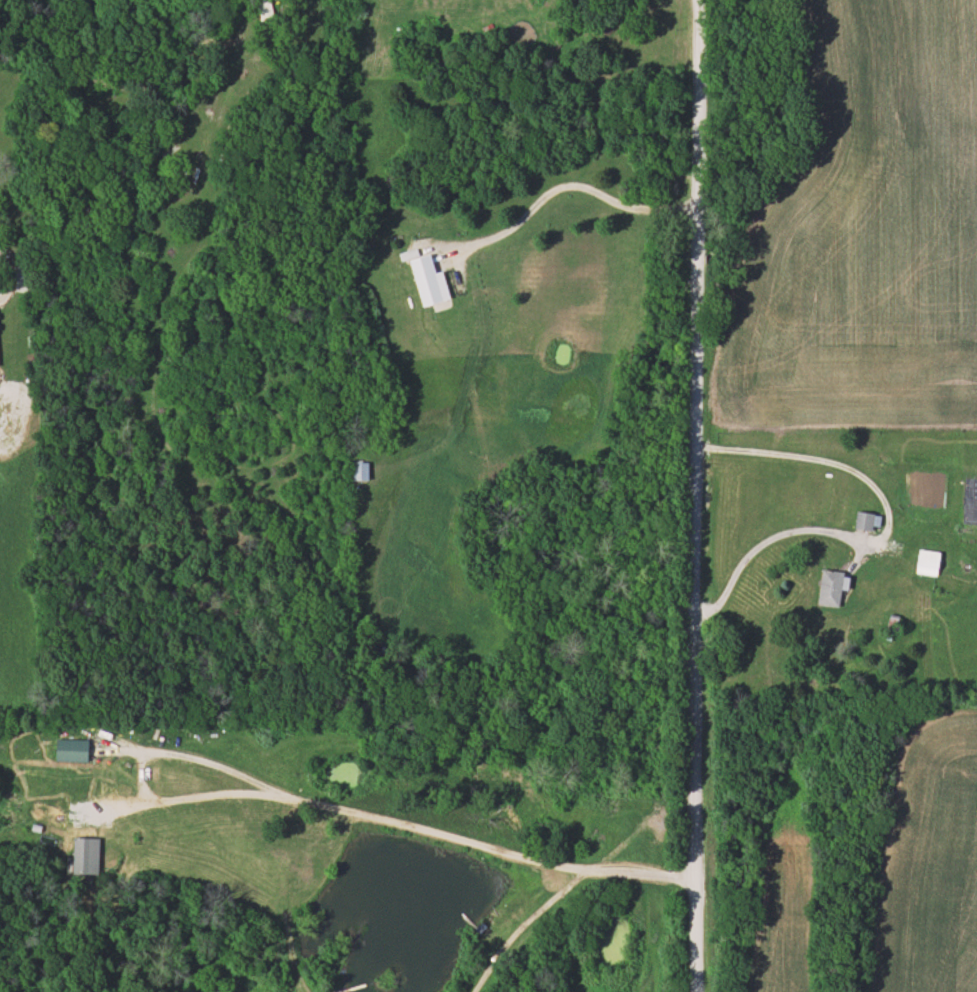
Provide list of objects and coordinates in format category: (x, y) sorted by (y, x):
building: (262, 9)
building: (188, 173)
road: (565, 187)
building: (426, 281)
building: (357, 471)
road: (693, 495)
building: (865, 521)
road: (888, 535)
building: (925, 562)
building: (829, 588)
building: (69, 750)
road: (408, 825)
building: (83, 856)

